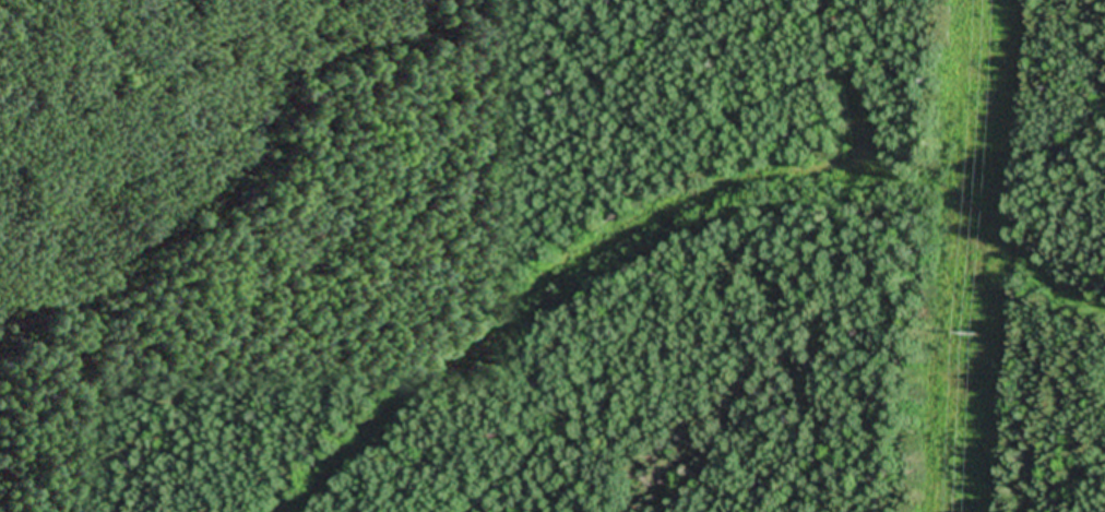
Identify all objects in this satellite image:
road: (672, 218)
power tower: (970, 333)

